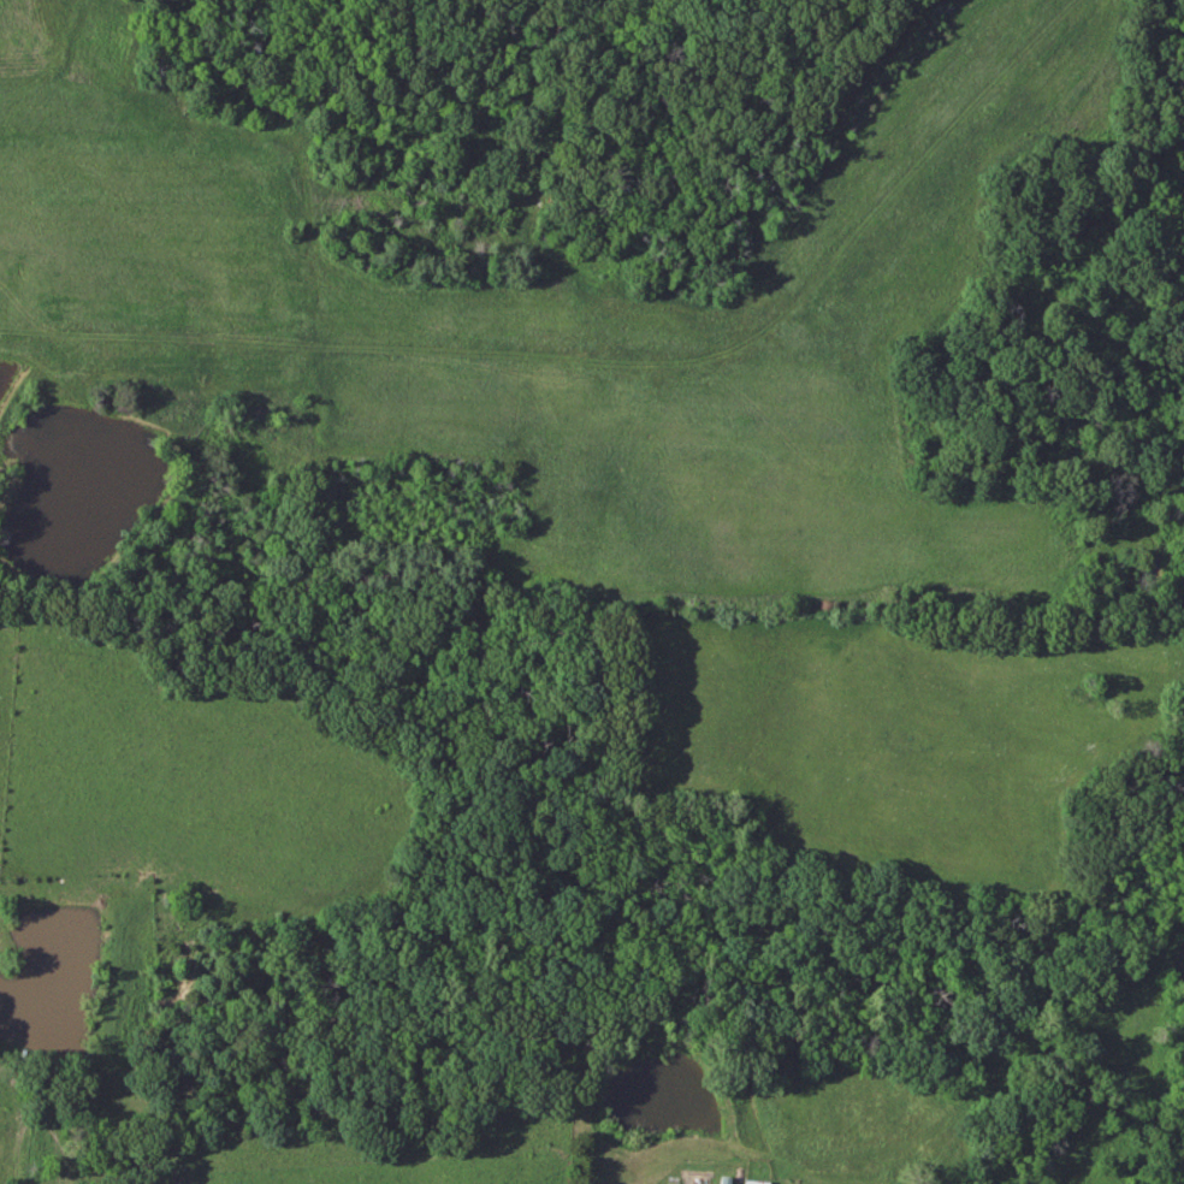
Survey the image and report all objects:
building: (754, 1182)

